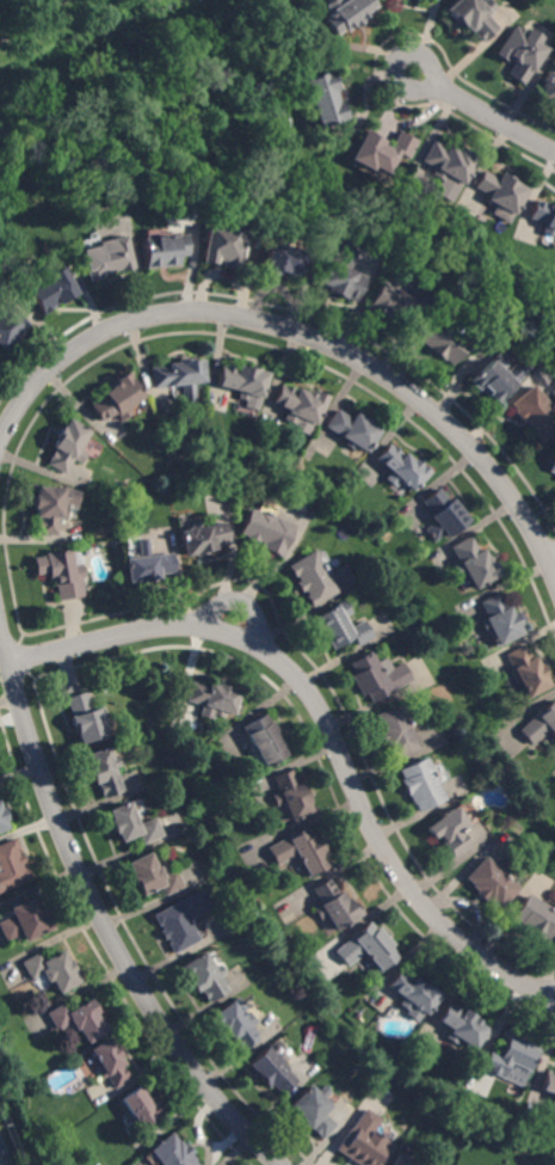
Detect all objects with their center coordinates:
building: (413, 0)
building: (347, 14)
building: (473, 17)
building: (520, 54)
building: (548, 90)
building: (322, 100)
road: (483, 111)
building: (378, 152)
building: (448, 165)
building: (499, 191)
building: (544, 217)
building: (222, 247)
building: (165, 251)
building: (107, 259)
building: (280, 260)
building: (337, 281)
building: (51, 290)
building: (390, 306)
building: (10, 326)
road: (301, 333)
building: (442, 343)
building: (179, 379)
building: (498, 379)
building: (242, 381)
building: (117, 400)
building: (298, 405)
building: (535, 413)
building: (352, 430)
building: (68, 447)
building: (553, 466)
building: (401, 470)
building: (53, 508)
building: (443, 516)
building: (267, 532)
building: (203, 538)
road: (551, 557)
building: (474, 564)
building: (149, 565)
building: (62, 574)
building: (313, 580)
building: (499, 620)
building: (343, 629)
building: (526, 673)
building: (378, 677)
building: (215, 699)
building: (87, 721)
building: (539, 724)
road: (329, 725)
building: (396, 732)
building: (266, 742)
building: (104, 773)
building: (421, 786)
building: (290, 796)
building: (2, 821)
building: (134, 826)
building: (451, 832)
building: (301, 852)
building: (12, 867)
building: (154, 877)
building: (492, 885)
building: (334, 907)
road: (100, 913)
building: (536, 919)
building: (25, 922)
building: (183, 922)
building: (369, 949)
building: (53, 971)
building: (205, 979)
building: (414, 994)
building: (80, 1020)
building: (238, 1025)
building: (462, 1028)
building: (511, 1060)
building: (110, 1065)
building: (272, 1073)
building: (549, 1083)
building: (554, 1104)
building: (142, 1108)
building: (314, 1112)
building: (365, 1142)
building: (172, 1153)
road: (1, 1161)
building: (400, 1161)

